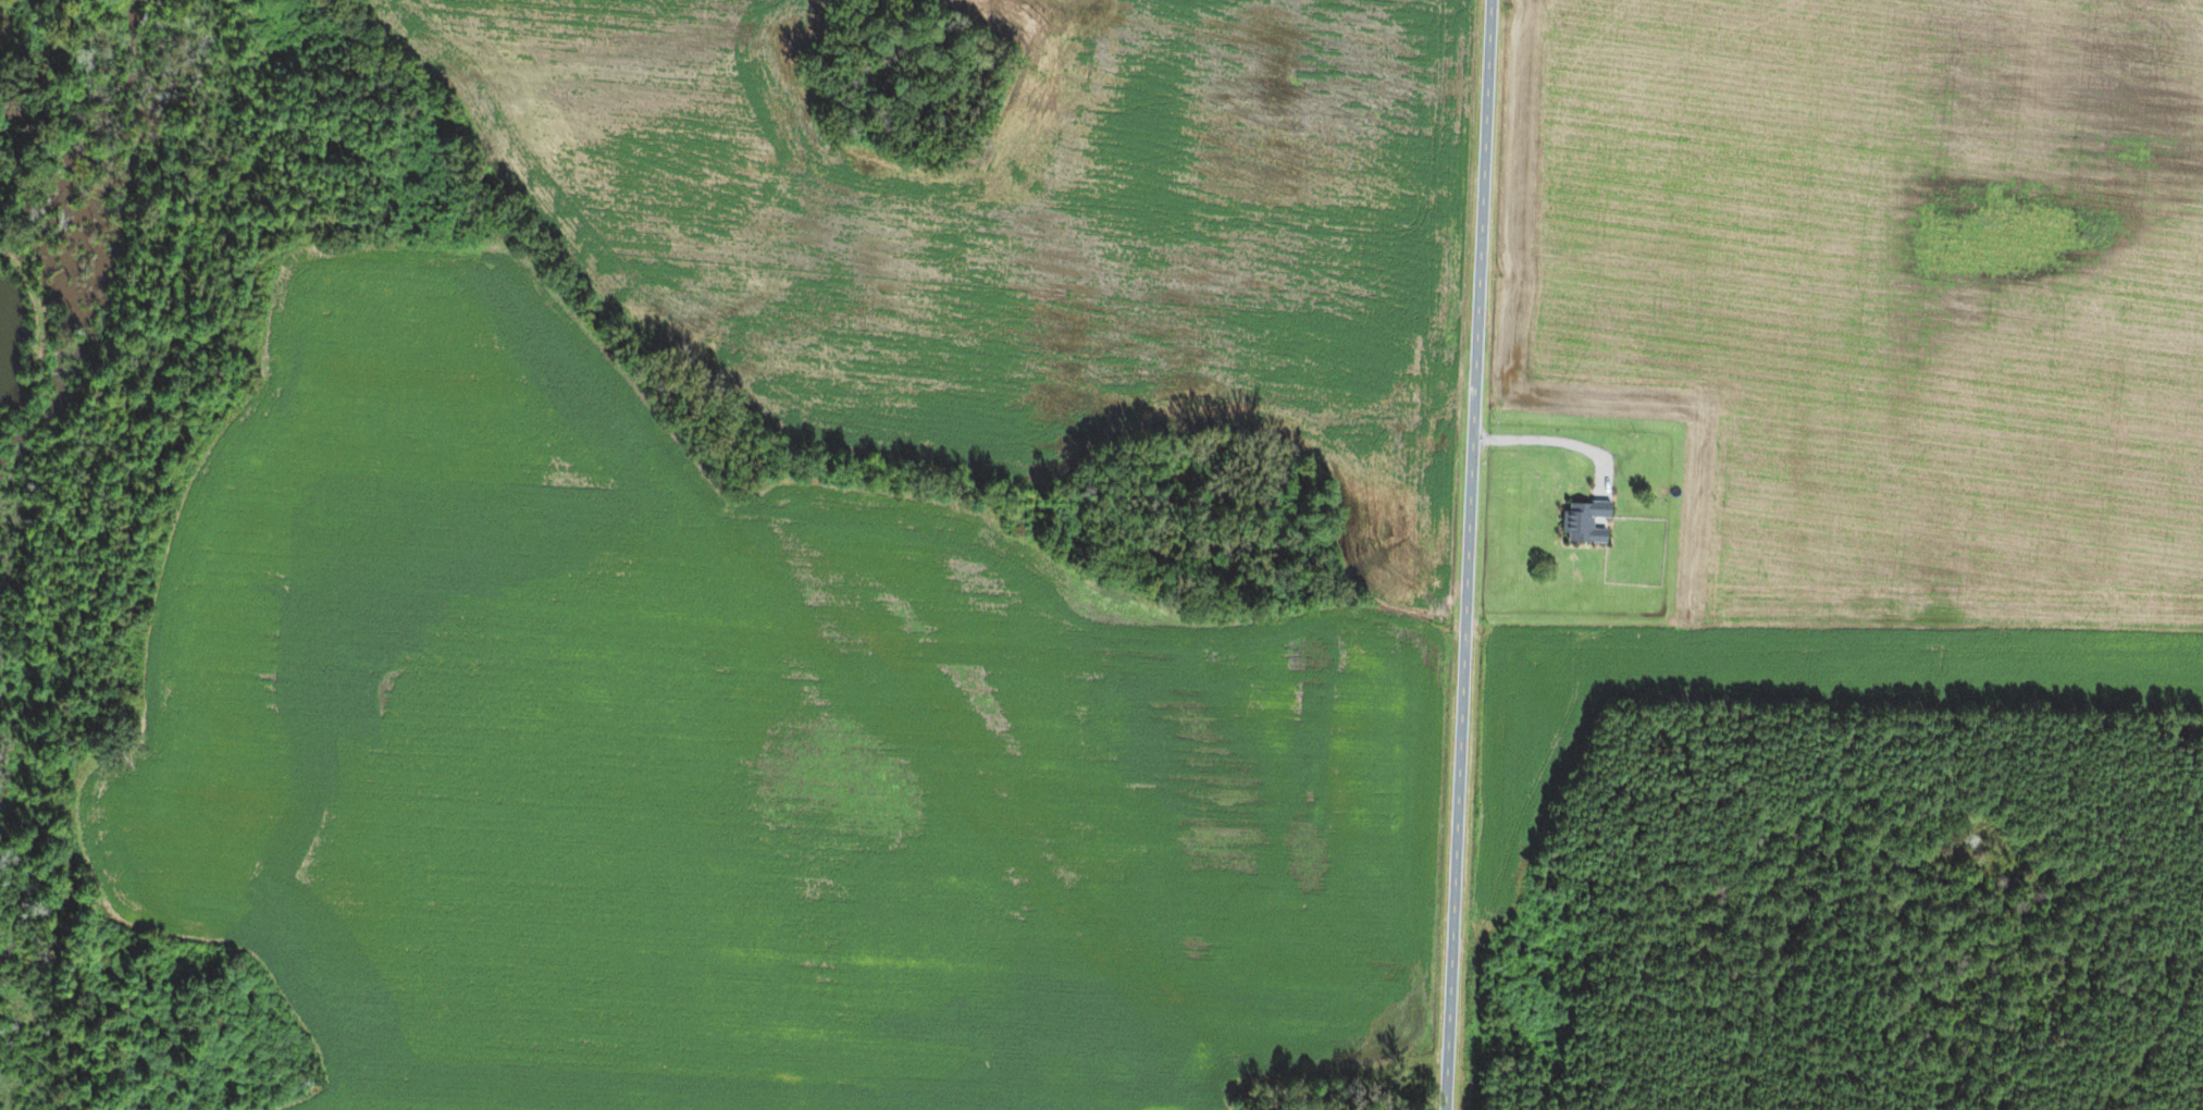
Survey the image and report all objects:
crop: (8, 33)
building: (1582, 520)
road: (1466, 554)
road: (1374, 1081)

